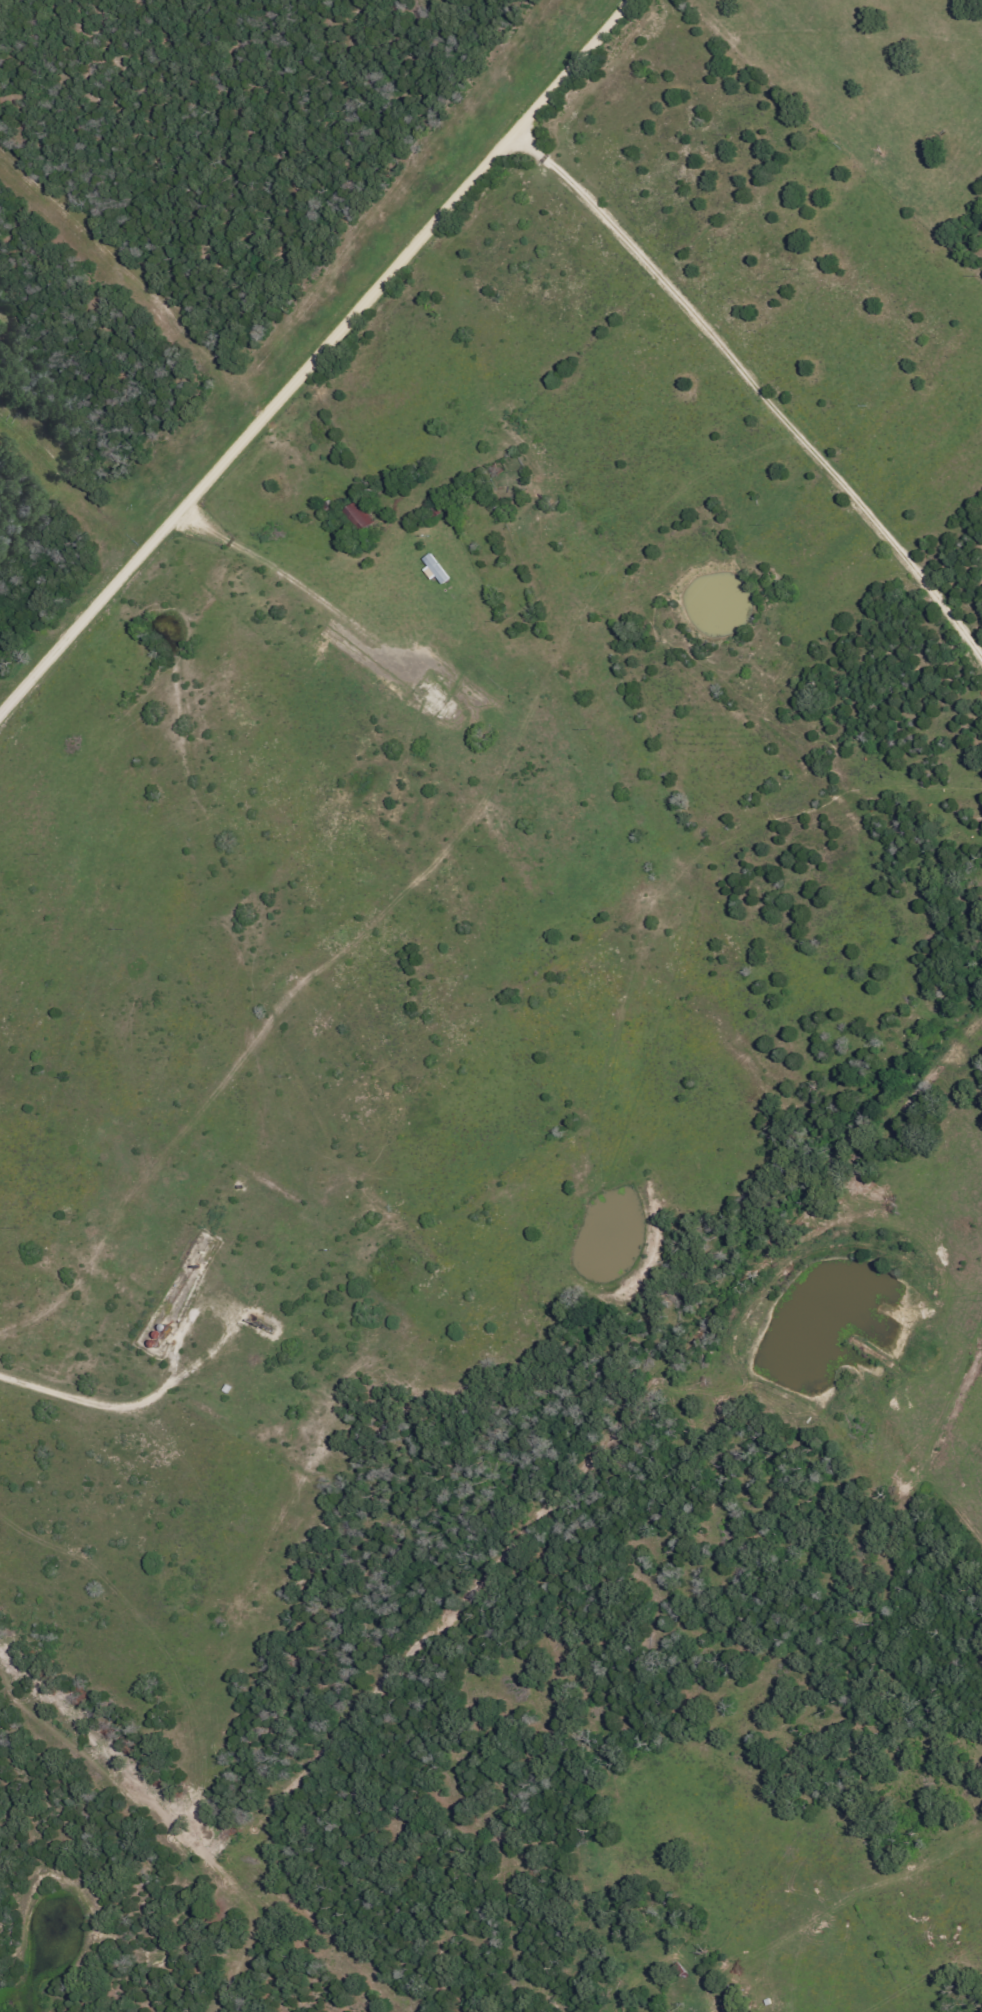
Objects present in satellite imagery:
road: (712, 332)
road: (314, 358)
road: (161, 1386)
road: (497, 1997)

